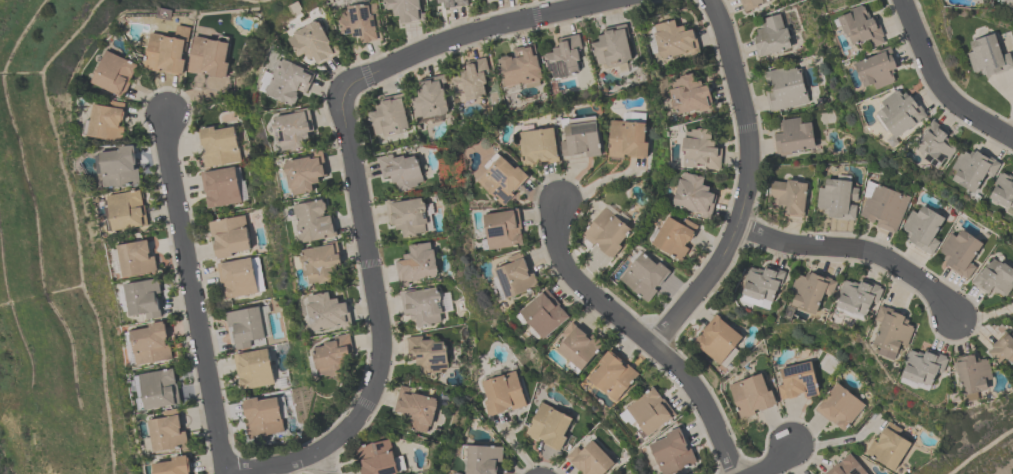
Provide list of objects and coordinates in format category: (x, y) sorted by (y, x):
building: (430, 0)
building: (969, 0)
building: (1010, 0)
building: (454, 3)
building: (750, 4)
building: (406, 10)
building: (362, 21)
building: (862, 25)
road: (481, 32)
building: (772, 35)
building: (675, 38)
building: (313, 42)
building: (613, 45)
building: (168, 51)
building: (989, 55)
building: (209, 56)
building: (564, 56)
building: (521, 66)
building: (879, 66)
building: (115, 73)
building: (470, 80)
building: (289, 81)
road: (939, 85)
building: (785, 88)
building: (689, 92)
building: (430, 98)
building: (902, 110)
building: (388, 117)
building: (105, 120)
building: (293, 129)
building: (582, 135)
building: (794, 136)
building: (628, 138)
building: (937, 143)
building: (540, 145)
building: (219, 146)
building: (701, 148)
building: (119, 166)
building: (974, 167)
building: (400, 171)
building: (304, 172)
building: (503, 178)
road: (757, 184)
building: (220, 185)
building: (1004, 188)
building: (695, 194)
building: (789, 196)
building: (838, 198)
building: (884, 205)
building: (126, 210)
building: (407, 215)
building: (313, 220)
building: (923, 227)
building: (504, 228)
building: (608, 231)
building: (229, 236)
building: (675, 236)
road: (861, 248)
building: (961, 251)
building: (136, 257)
building: (320, 262)
building: (416, 264)
building: (517, 274)
building: (645, 275)
building: (994, 276)
building: (236, 277)
building: (763, 281)
road: (590, 285)
building: (812, 290)
road: (184, 294)
building: (858, 295)
building: (143, 298)
building: (422, 305)
park: (30, 307)
building: (328, 311)
building: (545, 313)
road: (985, 317)
building: (245, 326)
road: (379, 328)
building: (892, 330)
building: (718, 339)
building: (150, 343)
building: (580, 344)
building: (1002, 347)
building: (427, 354)
building: (334, 355)
building: (923, 365)
building: (253, 368)
building: (972, 372)
building: (613, 374)
building: (798, 380)
building: (158, 389)
building: (503, 392)
building: (751, 395)
road: (710, 401)
building: (839, 406)
building: (415, 409)
building: (651, 410)
building: (262, 417)
building: (549, 426)
building: (167, 432)
road: (835, 441)
building: (889, 446)
building: (673, 451)
building: (376, 458)
building: (482, 459)
building: (590, 459)
road: (771, 462)
road: (324, 463)
building: (173, 466)
building: (847, 466)

